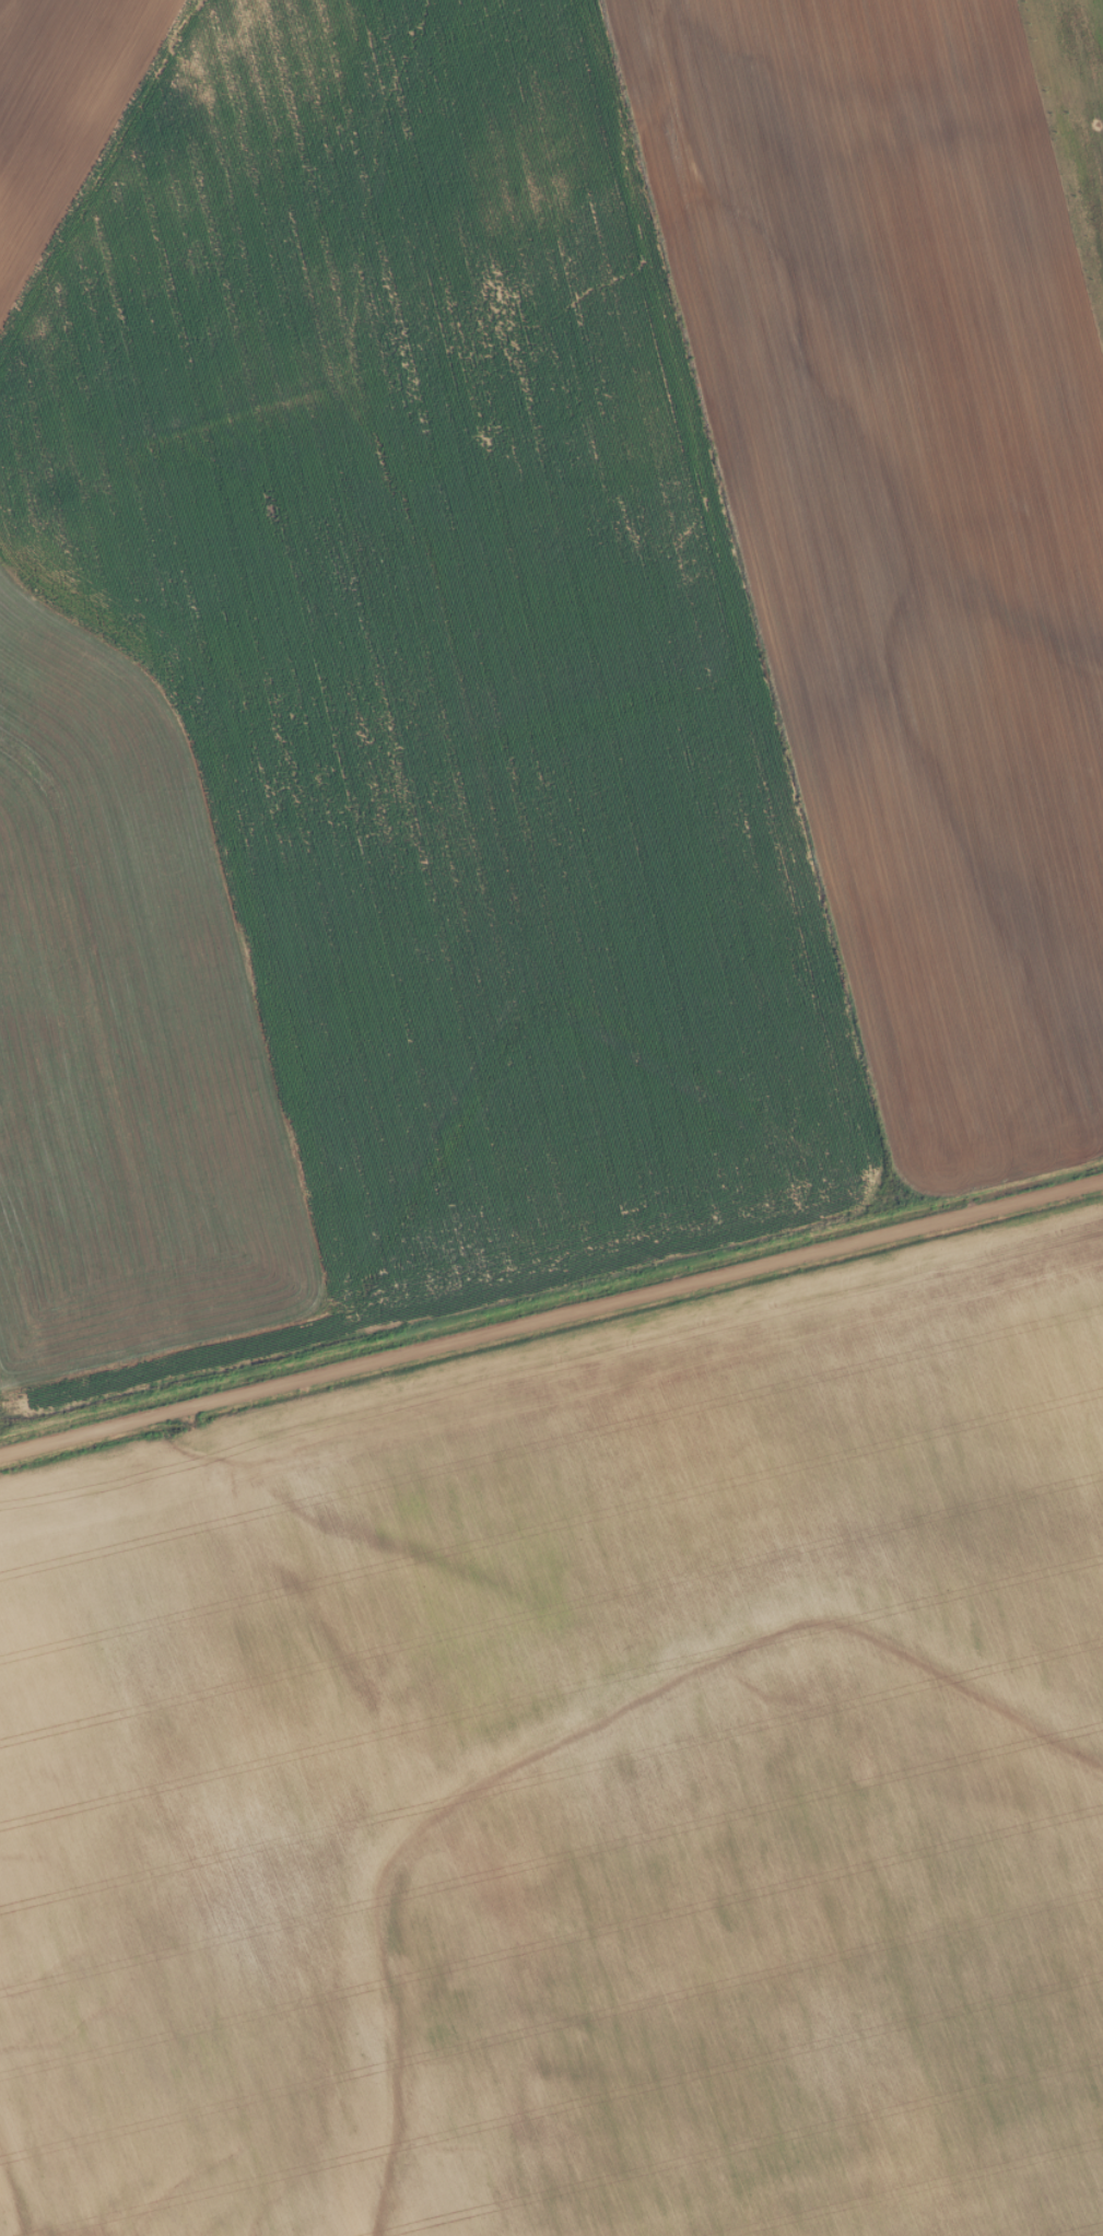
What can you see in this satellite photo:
road: (551, 1310)

